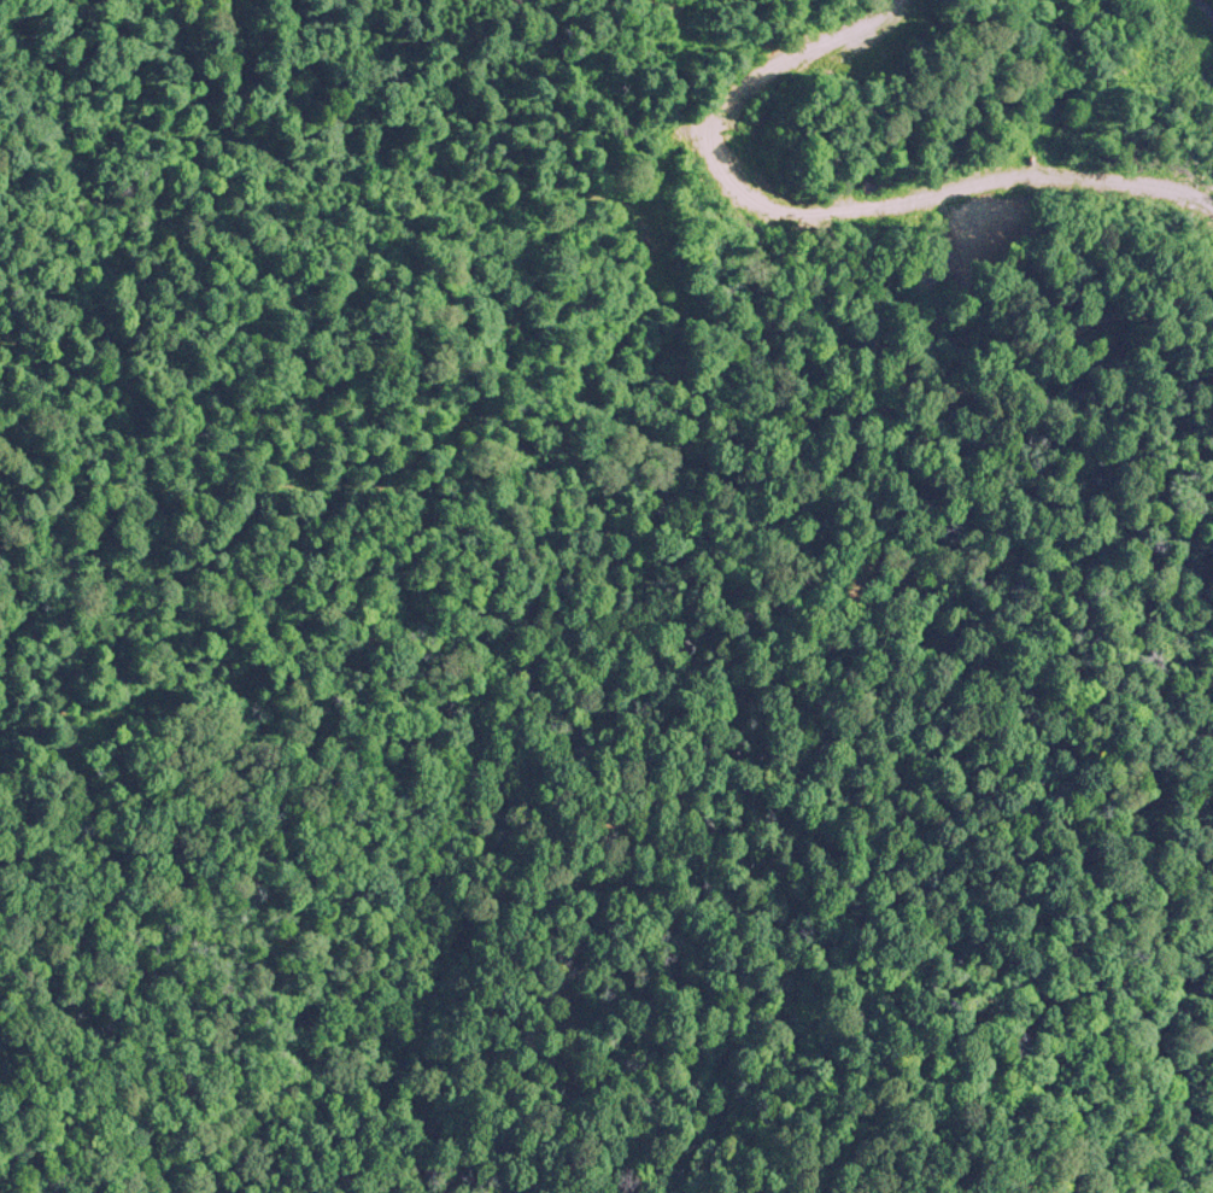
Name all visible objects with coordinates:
railway: (811, 241)

